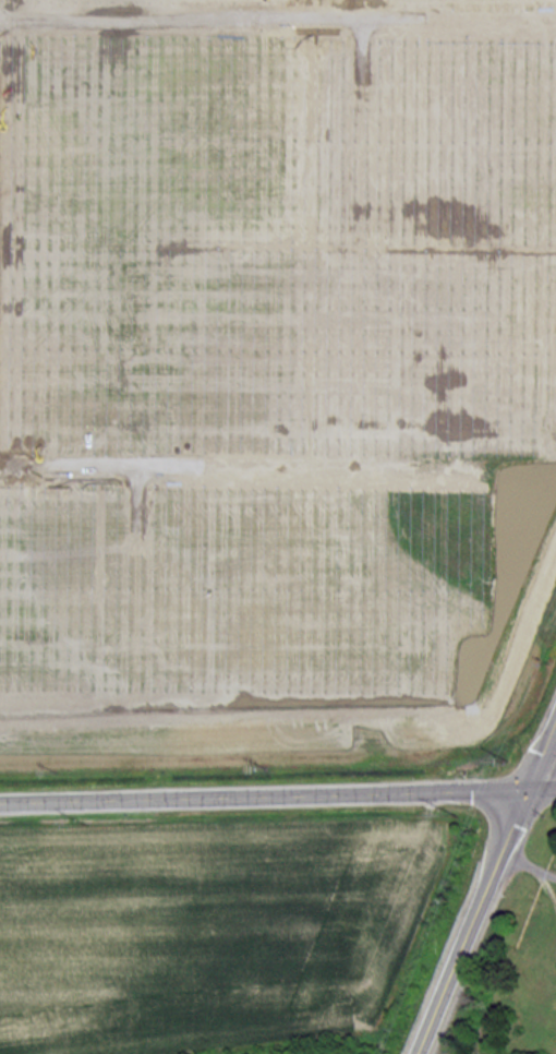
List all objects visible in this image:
traffic signals: (528, 789)
road: (278, 793)
road: (486, 887)

